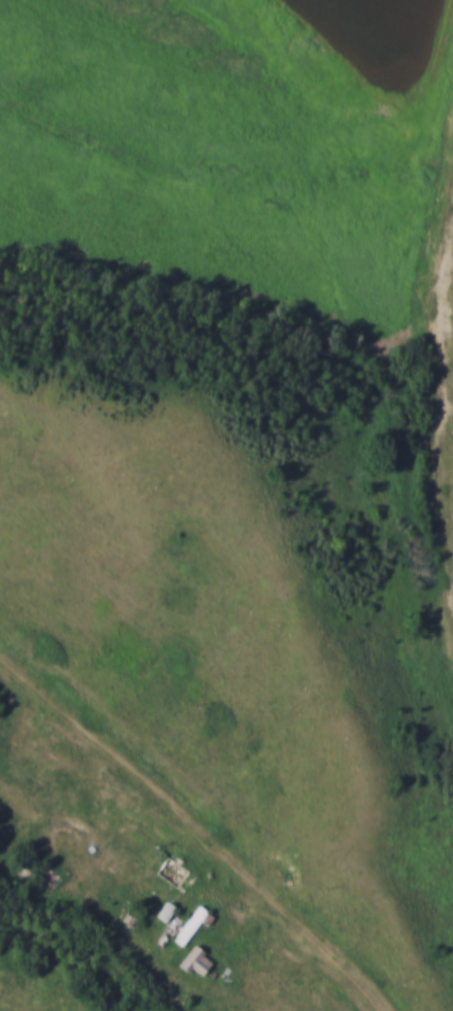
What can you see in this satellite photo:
building: (23, 865)
building: (176, 873)
building: (166, 913)
road: (285, 917)
building: (130, 919)
building: (195, 924)
building: (197, 961)

